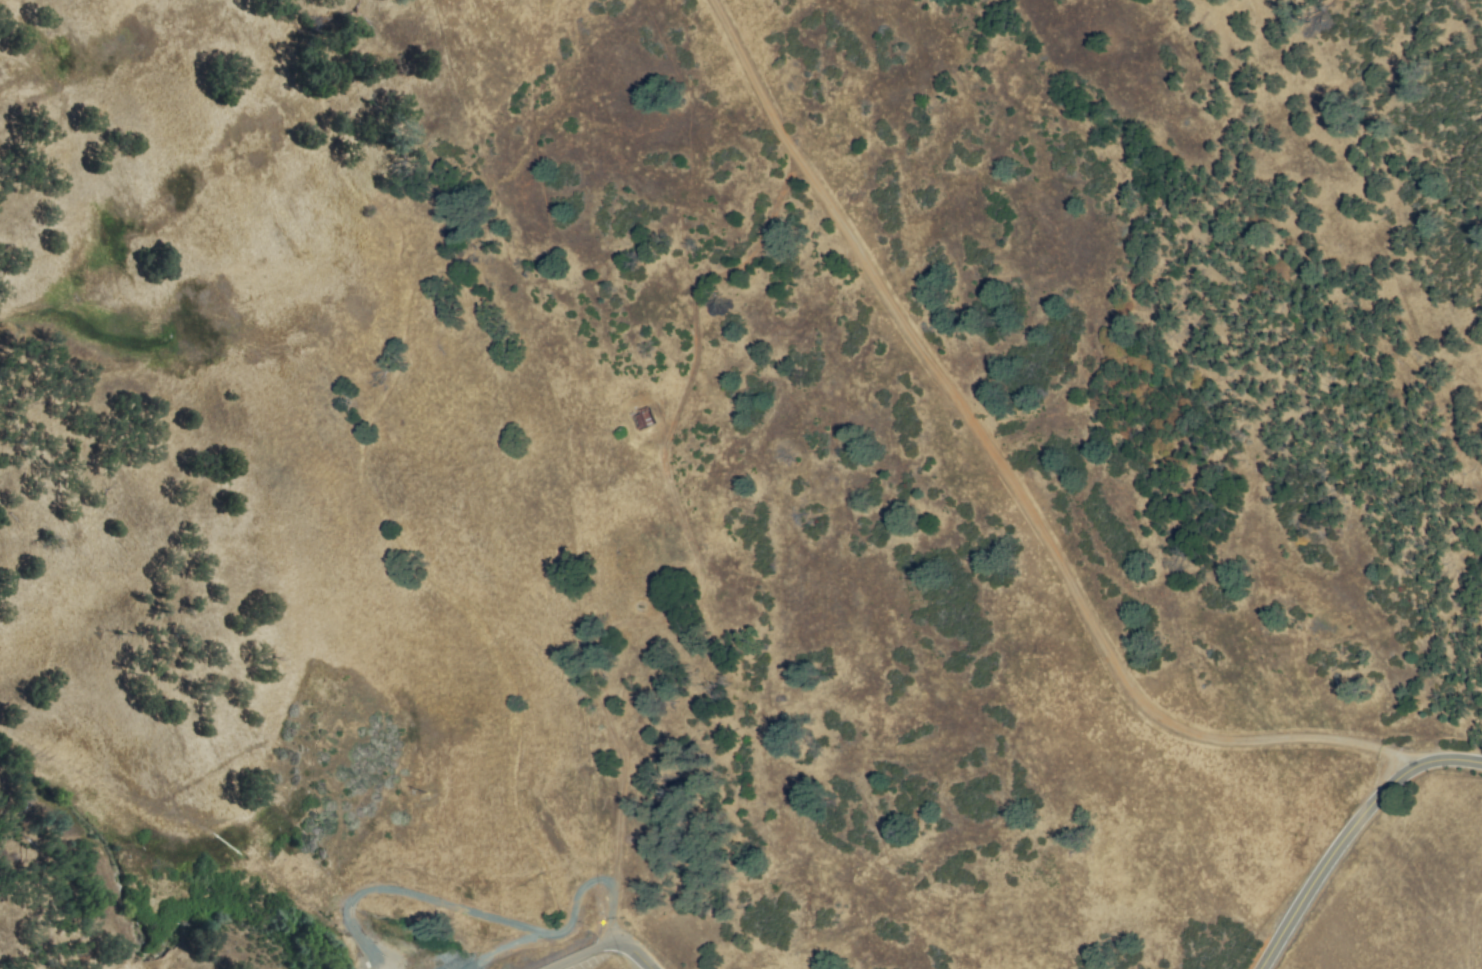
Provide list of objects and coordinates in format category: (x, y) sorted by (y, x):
road: (1347, 832)
road: (598, 947)

